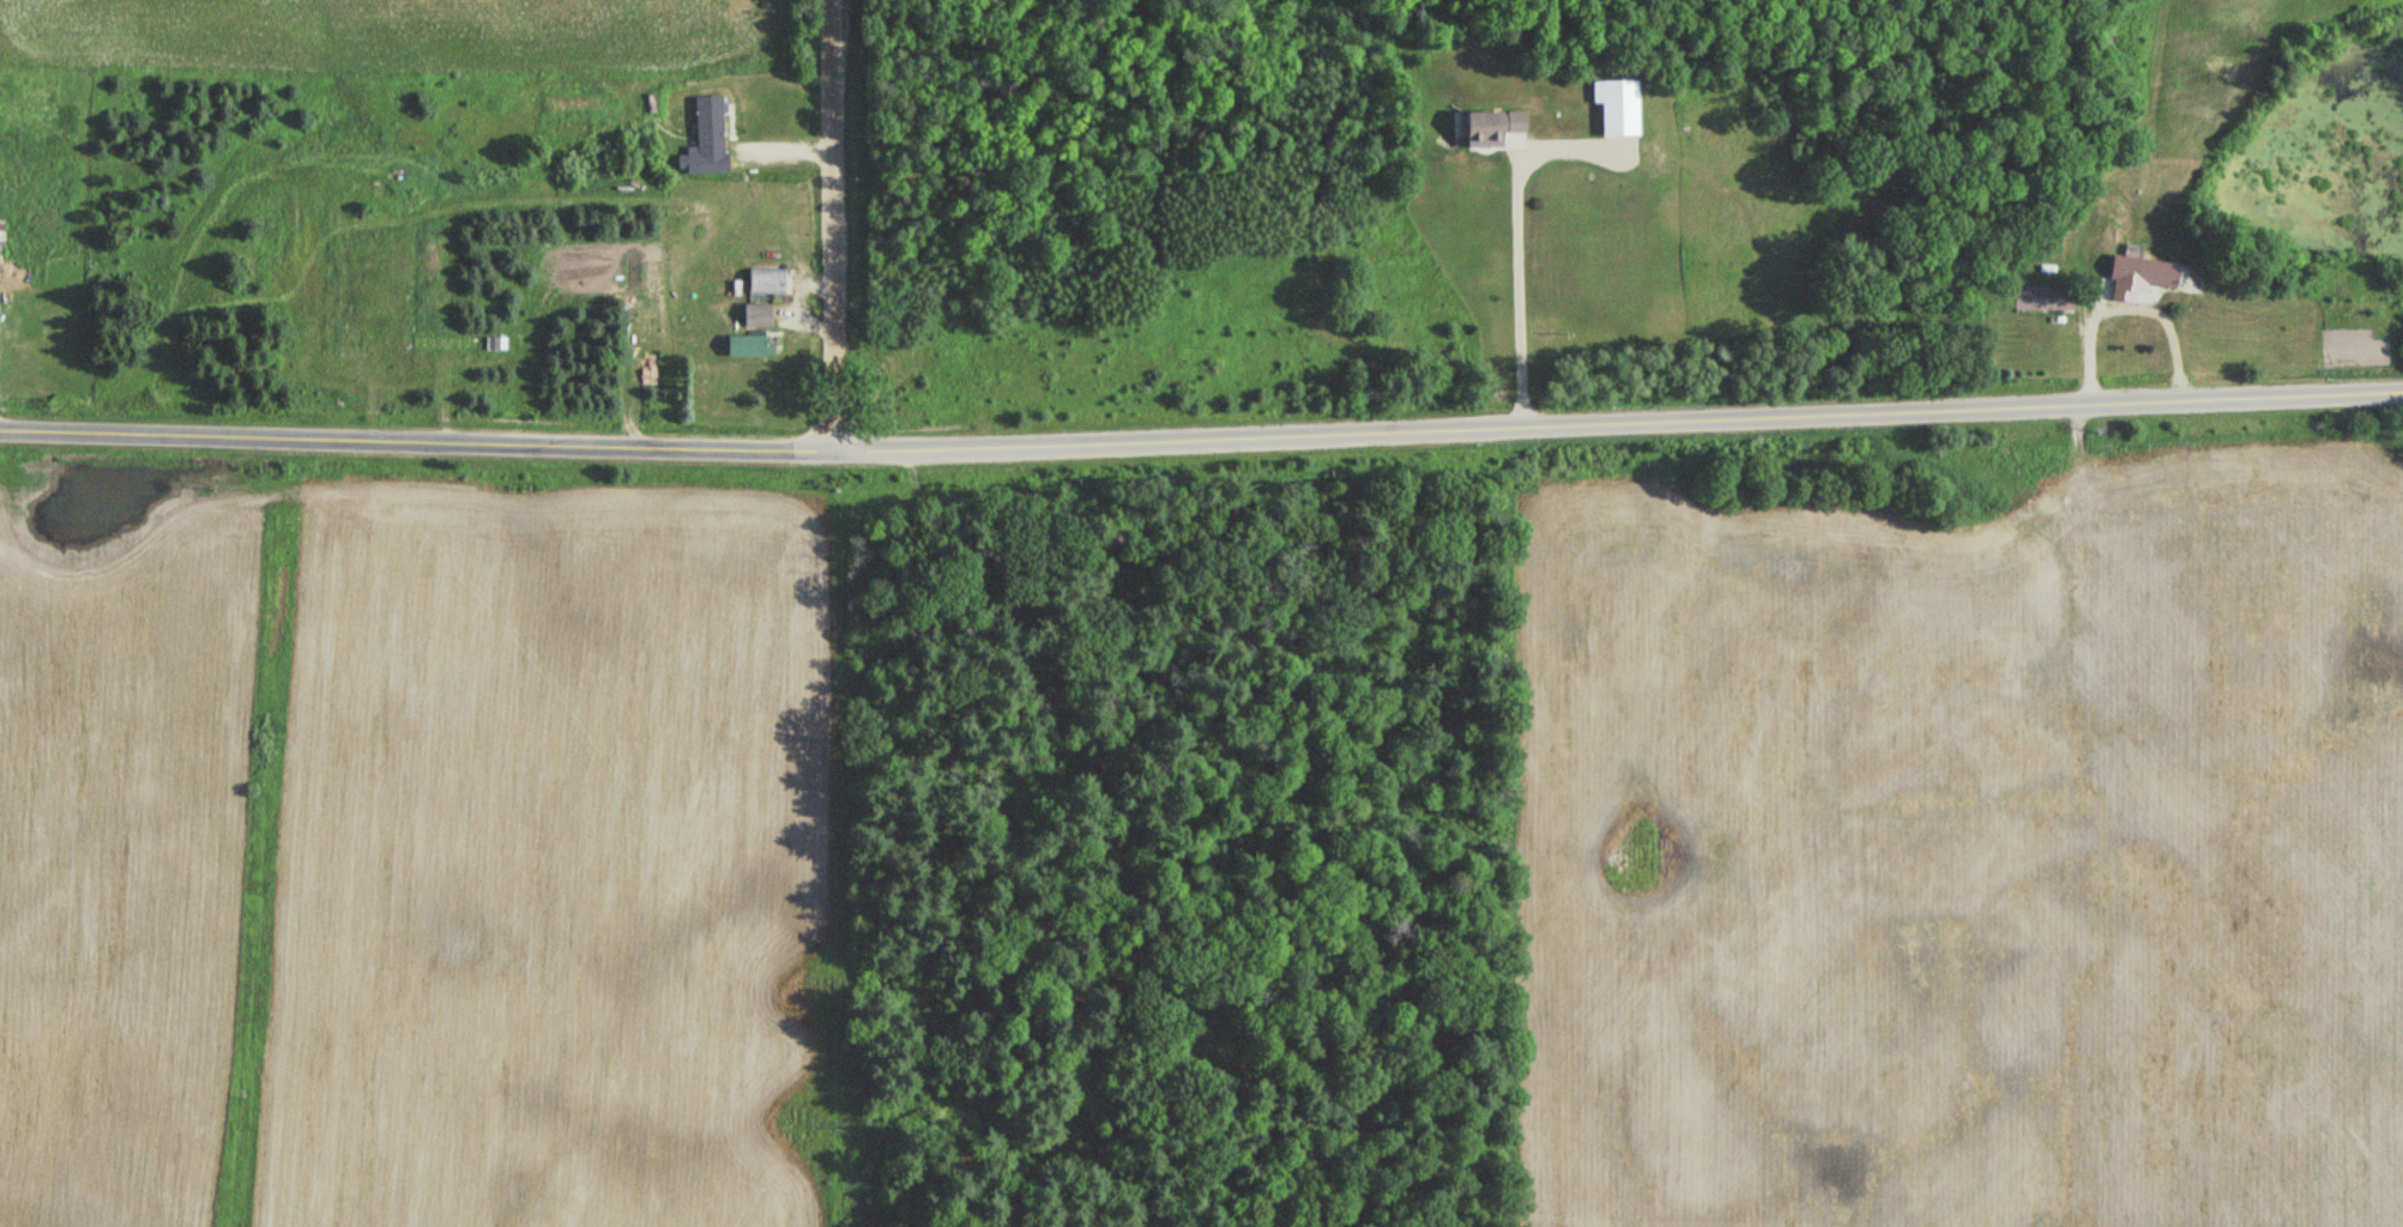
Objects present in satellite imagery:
building: (1614, 107)
building: (1487, 128)
building: (706, 137)
road: (785, 149)
road: (834, 224)
building: (1, 238)
road: (1519, 240)
building: (2135, 279)
road: (820, 280)
building: (2041, 298)
building: (754, 315)
road: (813, 320)
building: (443, 344)
building: (747, 345)
building: (2282, 356)
building: (350, 364)
road: (446, 399)
road: (373, 409)
road: (1201, 434)

